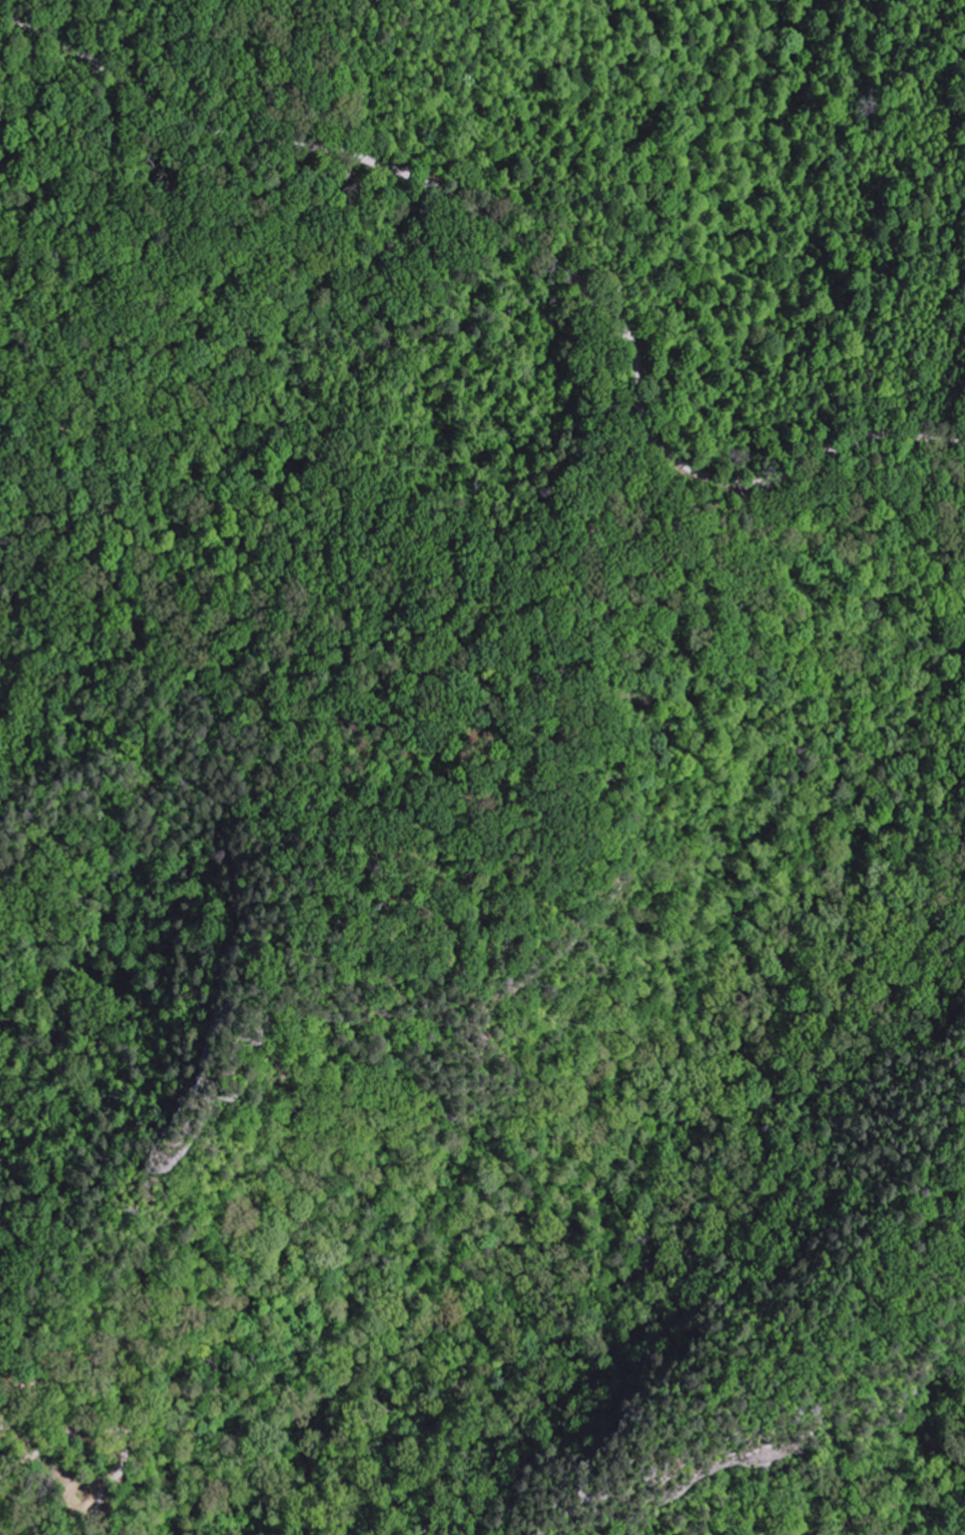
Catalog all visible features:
road: (523, 243)

